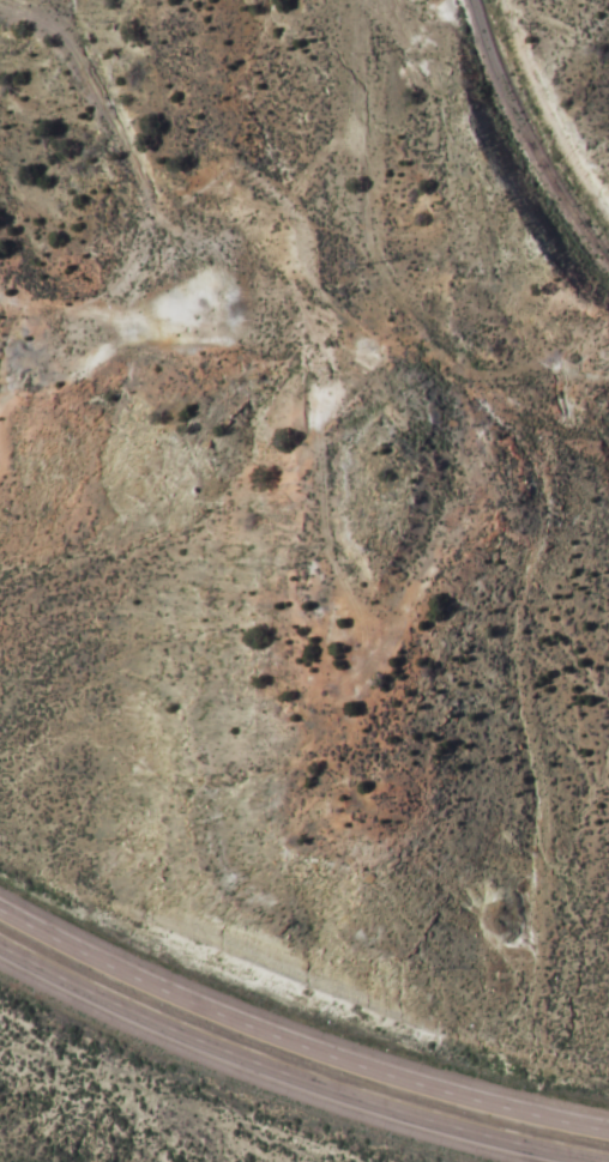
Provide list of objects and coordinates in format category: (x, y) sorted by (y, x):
railway: (527, 137)
road: (295, 1039)
road: (287, 1075)

